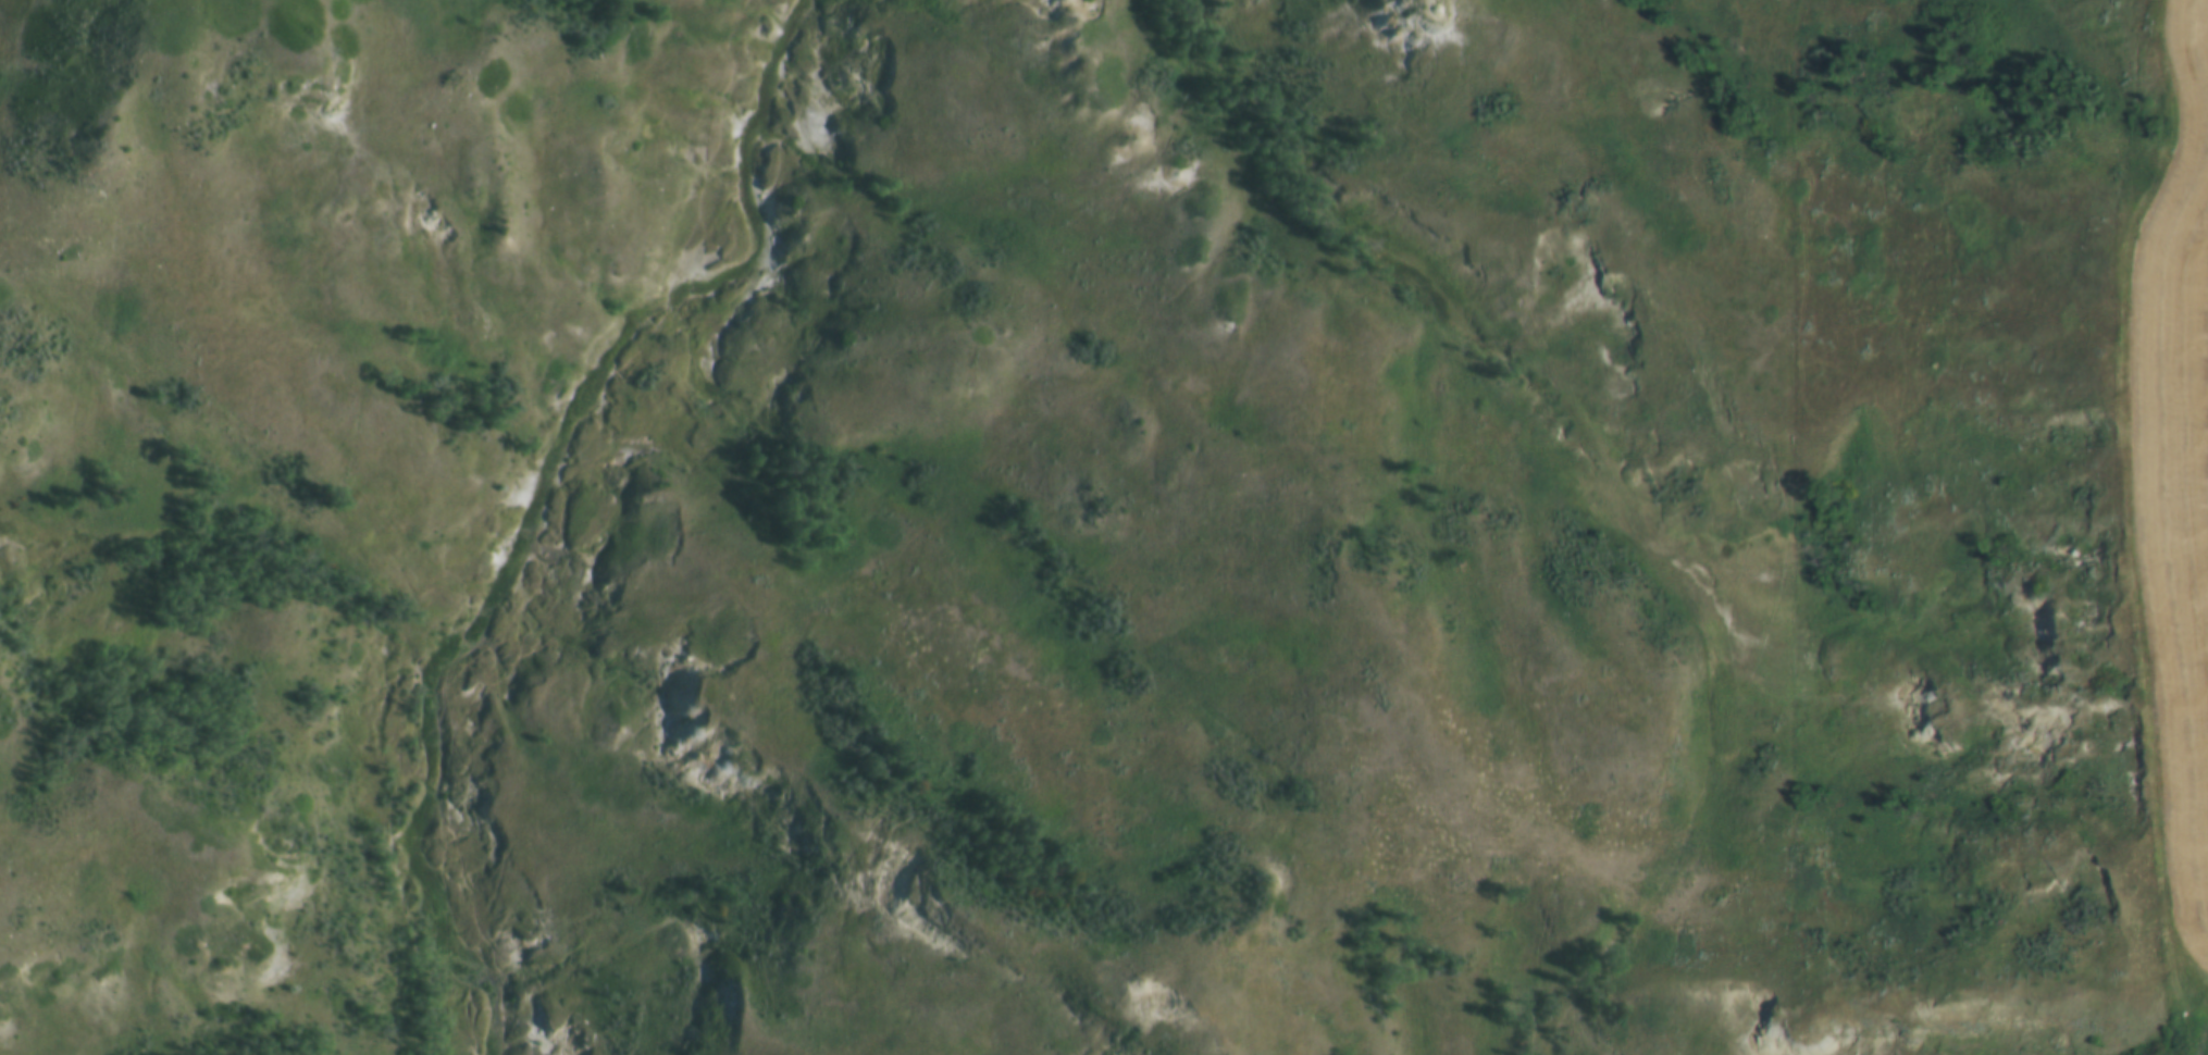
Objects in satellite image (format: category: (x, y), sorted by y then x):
road: (2136, 526)

